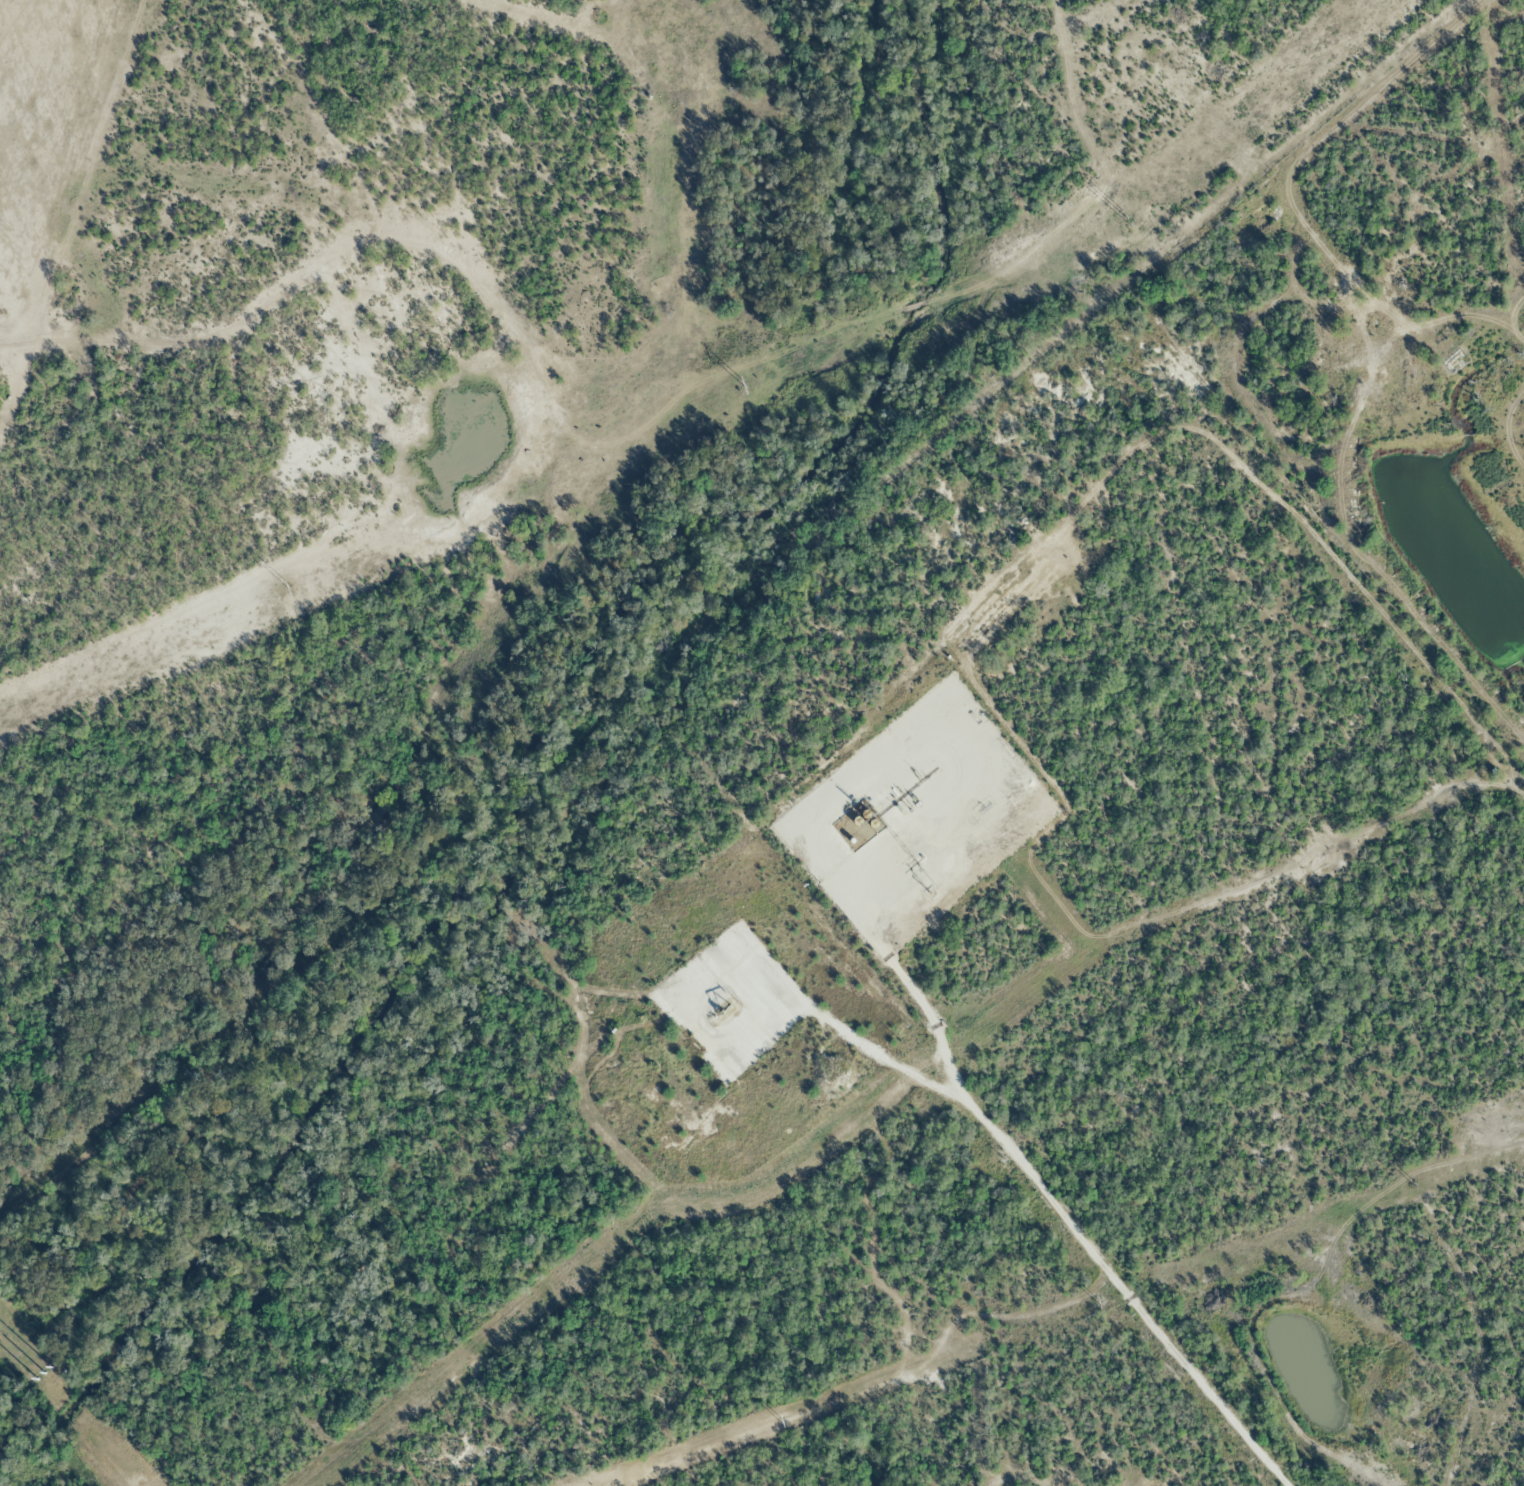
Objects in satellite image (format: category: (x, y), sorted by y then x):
power tower: (1125, 216)
power tower: (743, 385)
power tower: (290, 587)
road: (814, 989)
road: (971, 1093)
power tower: (1411, 1182)
power tower: (1097, 1299)
power tower: (47, 1378)
power tower: (780, 1420)

